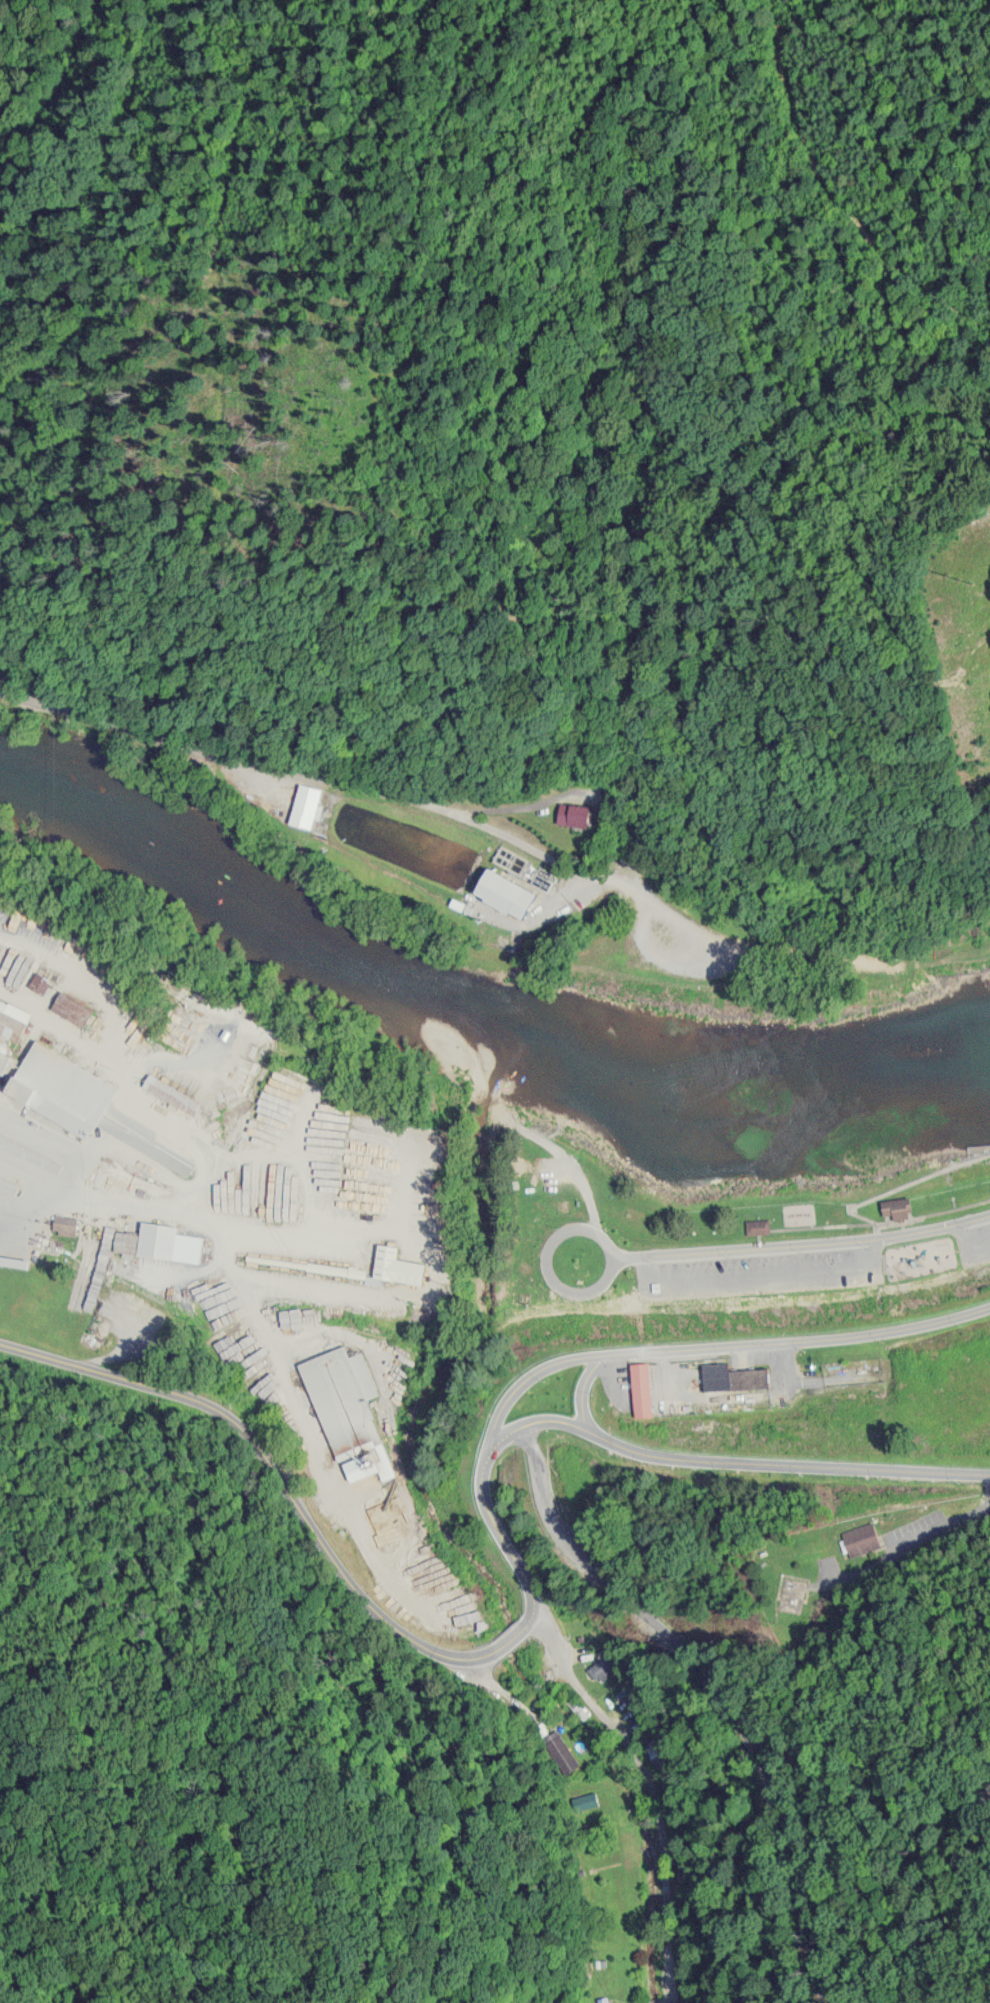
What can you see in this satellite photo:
road: (669, 493)
road: (391, 791)
building: (304, 804)
building: (571, 813)
building: (497, 892)
parking lot: (690, 949)
road: (878, 957)
river: (473, 1008)
building: (136, 1047)
building: (168, 1092)
building: (106, 1115)
road: (980, 1146)
road: (570, 1162)
road: (896, 1185)
building: (895, 1207)
building: (755, 1225)
parking lot: (974, 1241)
road: (801, 1242)
road: (968, 1242)
building: (144, 1244)
road: (548, 1260)
building: (392, 1265)
road: (762, 1269)
building: (348, 1270)
parking lot: (760, 1270)
road: (629, 1349)
building: (730, 1376)
road: (579, 1387)
building: (640, 1388)
building: (343, 1405)
road: (256, 1444)
road: (731, 1457)
building: (858, 1538)
road: (707, 1696)
road: (616, 1738)

